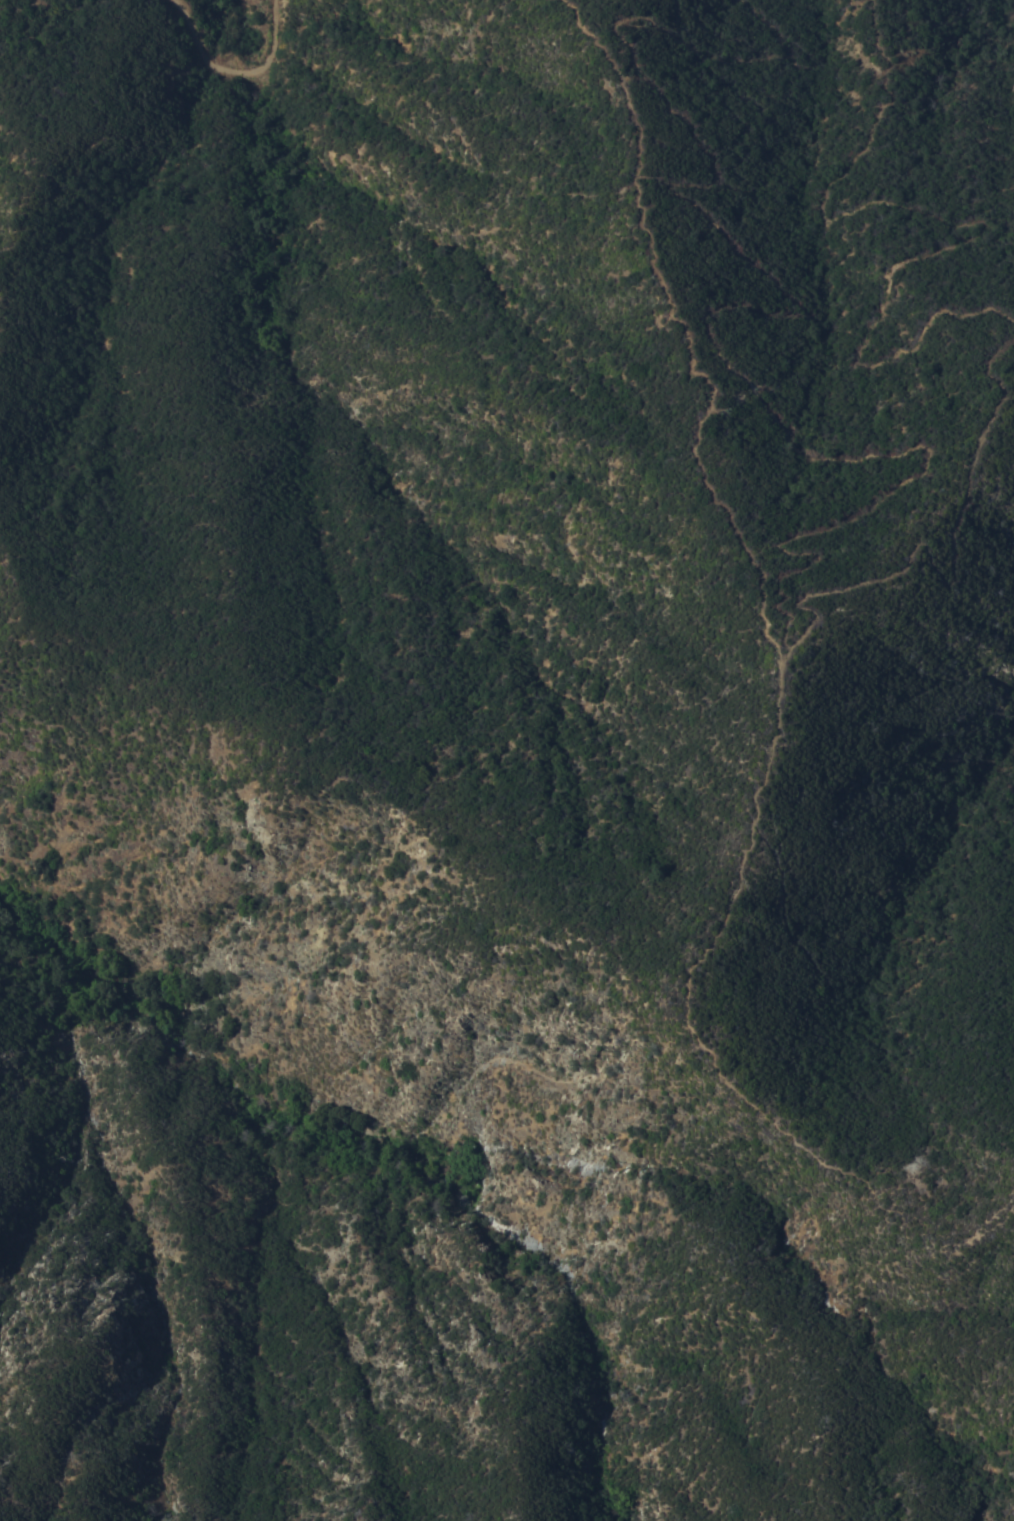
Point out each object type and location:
road: (233, 69)

